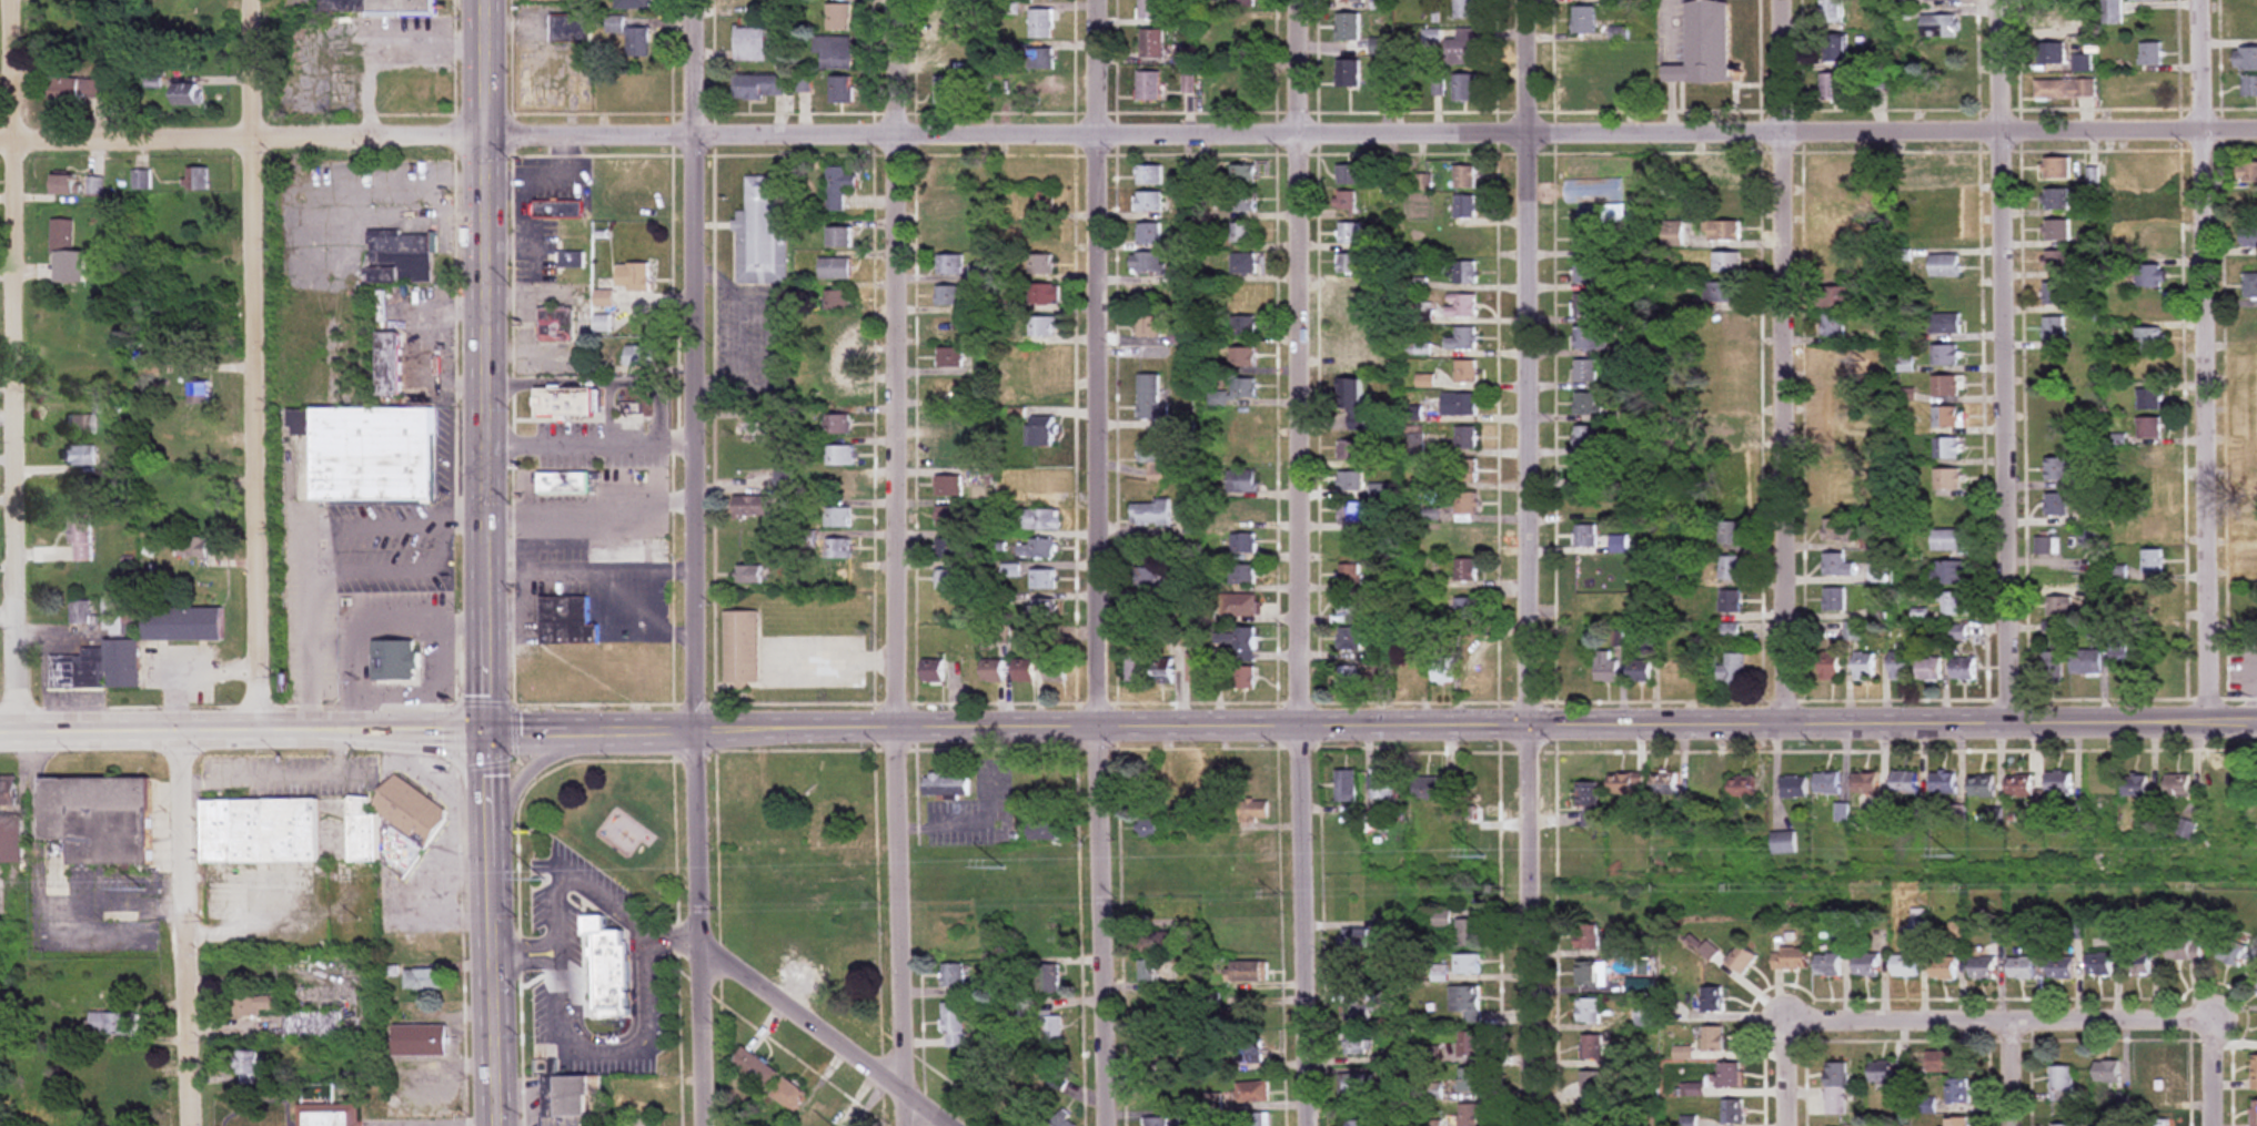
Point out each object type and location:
building: (1029, 0)
building: (1939, 0)
building: (2047, 0)
building: (2146, 0)
building: (1350, 1)
building: (1241, 2)
building: (748, 3)
building: (632, 4)
building: (377, 8)
building: (1150, 9)
building: (1463, 9)
building: (1831, 11)
building: (2110, 11)
building: (951, 13)
building: (180, 17)
building: (837, 17)
building: (2047, 17)
building: (1583, 19)
building: (615, 24)
building: (1040, 24)
building: (2246, 26)
building: (1347, 27)
building: (1938, 27)
building: (1618, 32)
building: (1243, 35)
building: (1430, 37)
road: (380, 42)
building: (637, 43)
building: (1151, 43)
building: (749, 44)
building: (1704, 44)
building: (1461, 48)
building: (1834, 49)
building: (833, 52)
building: (948, 52)
building: (2051, 53)
building: (2149, 53)
building: (1942, 55)
building: (1039, 59)
building: (2245, 59)
building: (2080, 63)
building: (1347, 72)
building: (1628, 84)
building: (601, 85)
building: (1148, 85)
building: (1943, 85)
building: (758, 87)
building: (1831, 87)
building: (2147, 87)
building: (2249, 87)
building: (1463, 88)
building: (77, 89)
building: (636, 89)
building: (840, 89)
building: (2064, 89)
building: (946, 90)
building: (1583, 92)
building: (187, 94)
road: (1128, 133)
building: (2055, 168)
building: (1836, 172)
building: (1943, 172)
building: (2247, 172)
building: (1722, 173)
building: (1241, 174)
building: (1348, 174)
building: (947, 175)
building: (1149, 175)
building: (2146, 175)
building: (1464, 176)
building: (141, 180)
building: (197, 180)
building: (63, 185)
building: (94, 185)
building: (837, 187)
building: (2055, 199)
building: (1344, 200)
building: (1726, 200)
building: (1241, 201)
building: (1148, 202)
building: (2247, 202)
building: (947, 203)
building: (1044, 203)
building: (1944, 203)
building: (1836, 204)
building: (1463, 206)
building: (557, 210)
building: (1586, 211)
building: (198, 224)
building: (2056, 230)
building: (1723, 231)
building: (1242, 232)
building: (760, 233)
building: (1349, 233)
building: (948, 234)
building: (1039, 234)
building: (1148, 234)
building: (1672, 234)
building: (1946, 234)
building: (1833, 235)
building: (840, 237)
building: (2250, 237)
building: (1589, 239)
building: (1464, 240)
building: (2147, 244)
building: (64, 255)
building: (400, 256)
building: (572, 258)
building: (2056, 261)
building: (1726, 262)
building: (1145, 263)
building: (1242, 263)
building: (1349, 264)
building: (949, 265)
building: (1040, 265)
building: (1944, 265)
building: (1832, 266)
building: (835, 268)
building: (1589, 272)
building: (1464, 273)
building: (2155, 276)
building: (633, 277)
building: (2249, 286)
building: (1720, 292)
building: (1044, 294)
building: (1242, 294)
building: (2053, 294)
building: (947, 296)
building: (1945, 296)
building: (1832, 297)
building: (603, 298)
building: (837, 300)
building: (1352, 300)
building: (1584, 305)
building: (1461, 306)
building: (2149, 308)
building: (1944, 323)
building: (602, 324)
building: (555, 325)
building: (1242, 325)
building: (1727, 325)
building: (1832, 325)
building: (1148, 326)
building: (948, 327)
building: (1042, 327)
building: (2053, 328)
building: (839, 332)
building: (2249, 333)
building: (1589, 338)
building: (1461, 339)
building: (2147, 339)
building: (1354, 341)
building: (1943, 355)
building: (641, 356)
building: (1241, 356)
building: (949, 357)
building: (1729, 359)
building: (1836, 359)
road: (2210, 359)
road: (1784, 361)
road: (2004, 361)
building: (837, 363)
building: (387, 364)
road: (254, 365)
road: (486, 365)
building: (2248, 365)
road: (19, 366)
building: (1585, 371)
building: (2149, 371)
building: (1037, 372)
building: (1465, 372)
road: (596, 382)
building: (1945, 386)
building: (1241, 387)
building: (949, 388)
building: (198, 393)
building: (837, 393)
building: (1724, 394)
building: (2248, 395)
building: (1149, 396)
building: (1349, 398)
building: (2055, 398)
building: (2148, 399)
building: (565, 402)
building: (1458, 404)
building: (1585, 404)
building: (104, 405)
road: (606, 413)
building: (1945, 417)
building: (1241, 419)
building: (837, 424)
building: (80, 425)
building: (194, 425)
building: (2248, 425)
building: (2149, 427)
building: (1725, 429)
building: (1832, 429)
building: (750, 432)
building: (1041, 432)
building: (2056, 433)
building: (1464, 437)
building: (1585, 437)
road: (592, 443)
building: (1946, 448)
building: (1242, 449)
building: (1350, 450)
building: (369, 453)
building: (839, 455)
building: (78, 456)
building: (2149, 457)
building: (2248, 457)
building: (1152, 458)
building: (1832, 460)
building: (1729, 465)
building: (1586, 468)
building: (2055, 469)
building: (1465, 470)
building: (1946, 479)
building: (1241, 481)
building: (1350, 481)
building: (562, 483)
building: (1039, 483)
building: (195, 485)
building: (840, 486)
building: (947, 487)
building: (85, 489)
building: (1005, 489)
building: (2126, 489)
building: (1727, 499)
building: (1585, 503)
building: (2055, 505)
building: (1465, 506)
building: (750, 507)
road: (466, 508)
building: (194, 509)
building: (1243, 513)
building: (1350, 513)
building: (1150, 514)
road: (594, 517)
building: (837, 517)
building: (947, 517)
road: (376, 520)
building: (1040, 520)
building: (2152, 527)
building: (1836, 532)
building: (1729, 534)
building: (1584, 536)
building: (1465, 537)
building: (80, 538)
building: (1947, 540)
building: (1242, 544)
building: (1619, 545)
building: (2045, 546)
building: (1424, 547)
building: (192, 548)
building: (837, 548)
building: (1042, 548)
building: (948, 549)
building: (2249, 556)
road: (696, 562)
road: (896, 562)
road: (1098, 562)
road: (1297, 562)
road: (1528, 562)
building: (2153, 562)
road: (394, 564)
building: (1836, 566)
building: (1730, 569)
building: (1465, 570)
building: (1011, 571)
building: (1876, 574)
building: (1948, 574)
building: (749, 575)
building: (1241, 575)
building: (1349, 576)
building: (1150, 578)
building: (839, 580)
building: (948, 580)
building: (1041, 580)
building: (1593, 584)
building: (1833, 599)
building: (1730, 601)
building: (1953, 603)
building: (1238, 606)
building: (1350, 607)
building: (2058, 607)
building: (2253, 607)
building: (1467, 608)
building: (1042, 610)
building: (1628, 610)
building: (79, 613)
building: (112, 616)
building: (565, 620)
building: (182, 625)
road: (306, 626)
building: (1843, 631)
building: (1729, 632)
building: (1235, 639)
building: (1349, 639)
building: (742, 648)
building: (2124, 652)
building: (393, 662)
building: (2086, 662)
building: (120, 665)
building: (1605, 667)
building: (1828, 667)
building: (1863, 667)
building: (1898, 667)
building: (1137, 668)
building: (1199, 668)
building: (1579, 668)
building: (1054, 669)
building: (1962, 669)
building: (2052, 669)
building: (1024, 670)
building: (1442, 670)
building: (1639, 670)
building: (1927, 670)
building: (77, 671)
building: (933, 671)
building: (993, 671)
building: (1162, 671)
building: (1474, 671)
building: (1672, 671)
building: (1733, 671)
building: (1409, 672)
building: (1243, 678)
building: (1349, 678)
road: (1370, 724)
traffic signals: (484, 730)
road: (241, 731)
building: (1181, 781)
building: (1212, 783)
building: (1903, 783)
building: (2057, 783)
building: (1381, 784)
building: (1702, 784)
building: (1826, 784)
building: (1864, 784)
building: (1943, 784)
building: (1626, 785)
building: (1664, 785)
building: (2178, 785)
building: (2225, 785)
building: (947, 787)
building: (1346, 787)
building: (2135, 787)
building: (1437, 788)
building: (1742, 788)
building: (1794, 788)
building: (1982, 788)
building: (2019, 788)
building: (7, 792)
building: (1588, 795)
building: (1253, 812)
building: (97, 820)
building: (392, 826)
building: (1148, 829)
building: (259, 831)
building: (1044, 834)
building: (11, 841)
building: (1782, 843)
road: (528, 858)
building: (1441, 921)
road: (491, 927)
road: (181, 929)
building: (1841, 930)
building: (1468, 933)
road: (669, 936)
building: (1586, 936)
building: (1352, 939)
building: (1157, 943)
building: (2183, 949)
building: (1621, 951)
building: (2231, 953)
building: (1790, 958)
building: (1742, 960)
building: (1908, 960)
building: (2137, 960)
building: (1468, 964)
building: (2099, 964)
building: (850, 965)
building: (1828, 965)
building: (1866, 965)
building: (608, 967)
building: (1983, 968)
building: (2022, 968)
building: (1944, 970)
building: (2059, 970)
building: (1250, 972)
building: (1150, 973)
building: (1588, 974)
building: (953, 975)
building: (1047, 978)
building: (421, 980)
building: (1625, 983)
building: (2256, 984)
building: (1713, 1000)
road: (639, 1001)
building: (1465, 1001)
building: (254, 1005)
building: (1363, 1007)
building: (1151, 1011)
building: (1589, 1012)
building: (1645, 1014)
building: (1238, 1017)
road: (1995, 1021)
building: (114, 1024)
building: (312, 1025)
building: (954, 1025)
building: (1051, 1031)
road: (823, 1035)
building: (1713, 1038)
building: (419, 1041)
building: (1360, 1044)
building: (1470, 1045)
building: (1591, 1047)
building: (1158, 1049)
building: (1250, 1051)
building: (1683, 1053)
building: (1393, 1057)
building: (1943, 1062)
building: (246, 1068)
building: (754, 1069)
building: (1882, 1072)
building: (2107, 1072)
road: (1781, 1073)
road: (2006, 1073)
road: (2210, 1073)
building: (2254, 1073)
building: (1729, 1075)
building: (1470, 1079)
building: (1359, 1084)
building: (1592, 1084)
building: (2060, 1084)
building: (2154, 1086)
building: (1836, 1088)
building: (1691, 1089)
building: (1957, 1092)
building: (122, 1093)
building: (1252, 1093)
building: (789, 1094)
building: (572, 1096)
building: (1165, 1097)
building: (648, 1098)
building: (1732, 1112)
building: (2254, 1113)
building: (328, 1115)
building: (1470, 1115)
building: (1590, 1116)
road: (436, 1118)
building: (1253, 1119)
building: (1064, 1120)
building: (1156, 1122)
building: (1958, 1122)
building: (2159, 1123)
building: (2064, 1125)

